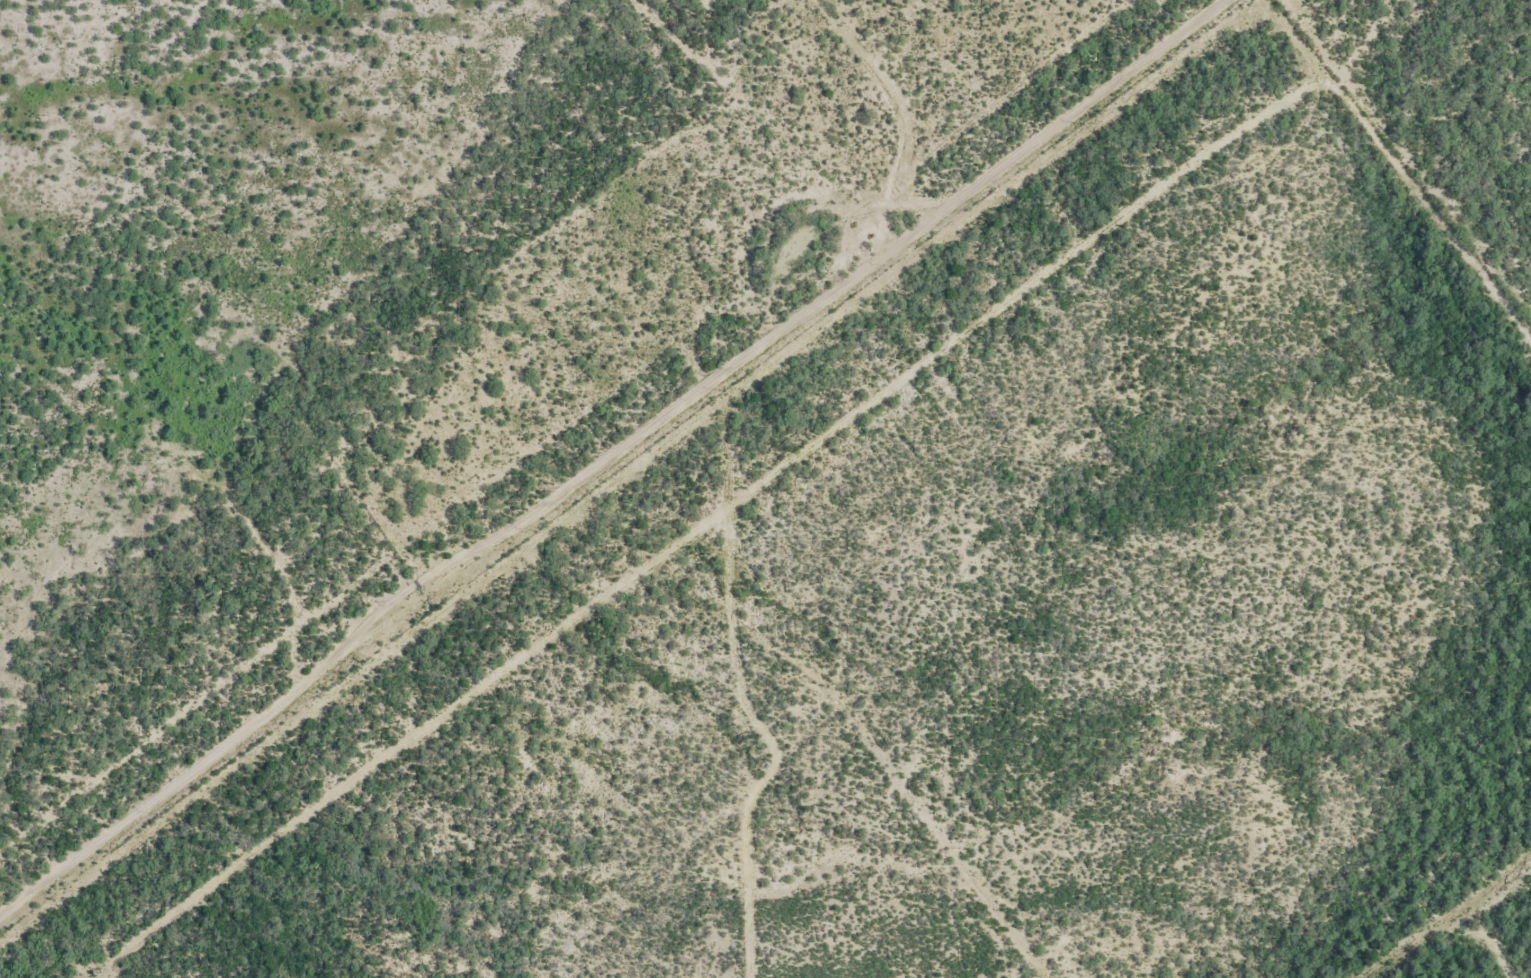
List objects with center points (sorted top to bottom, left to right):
road: (631, 461)

